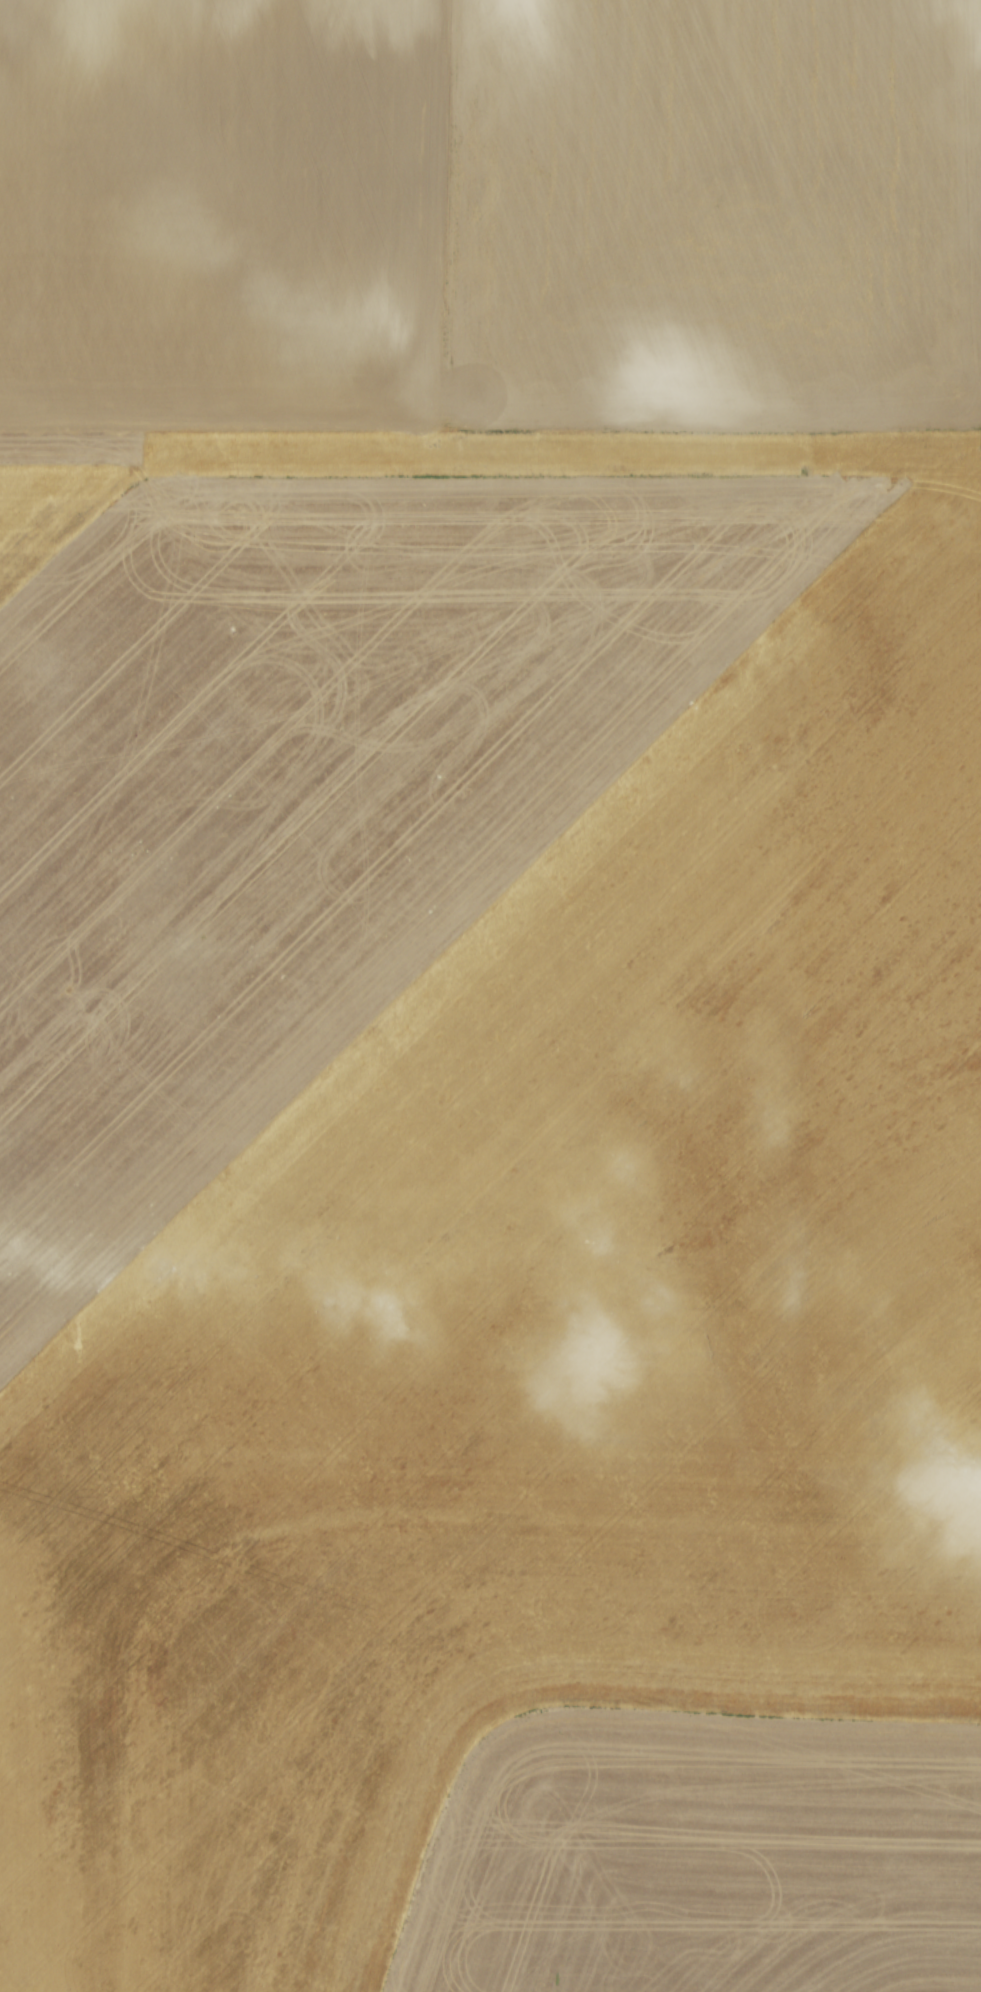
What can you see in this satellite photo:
crop: (490, 996)

